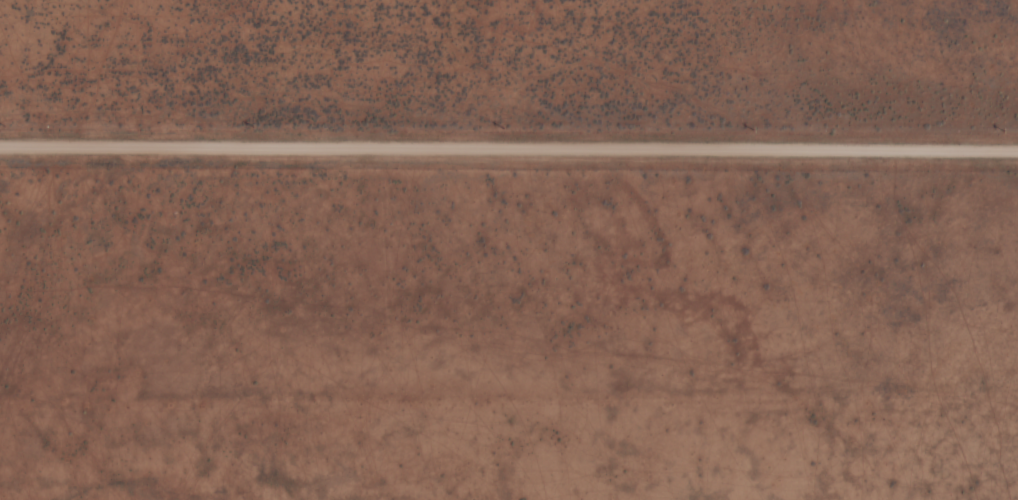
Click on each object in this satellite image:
road: (509, 146)

